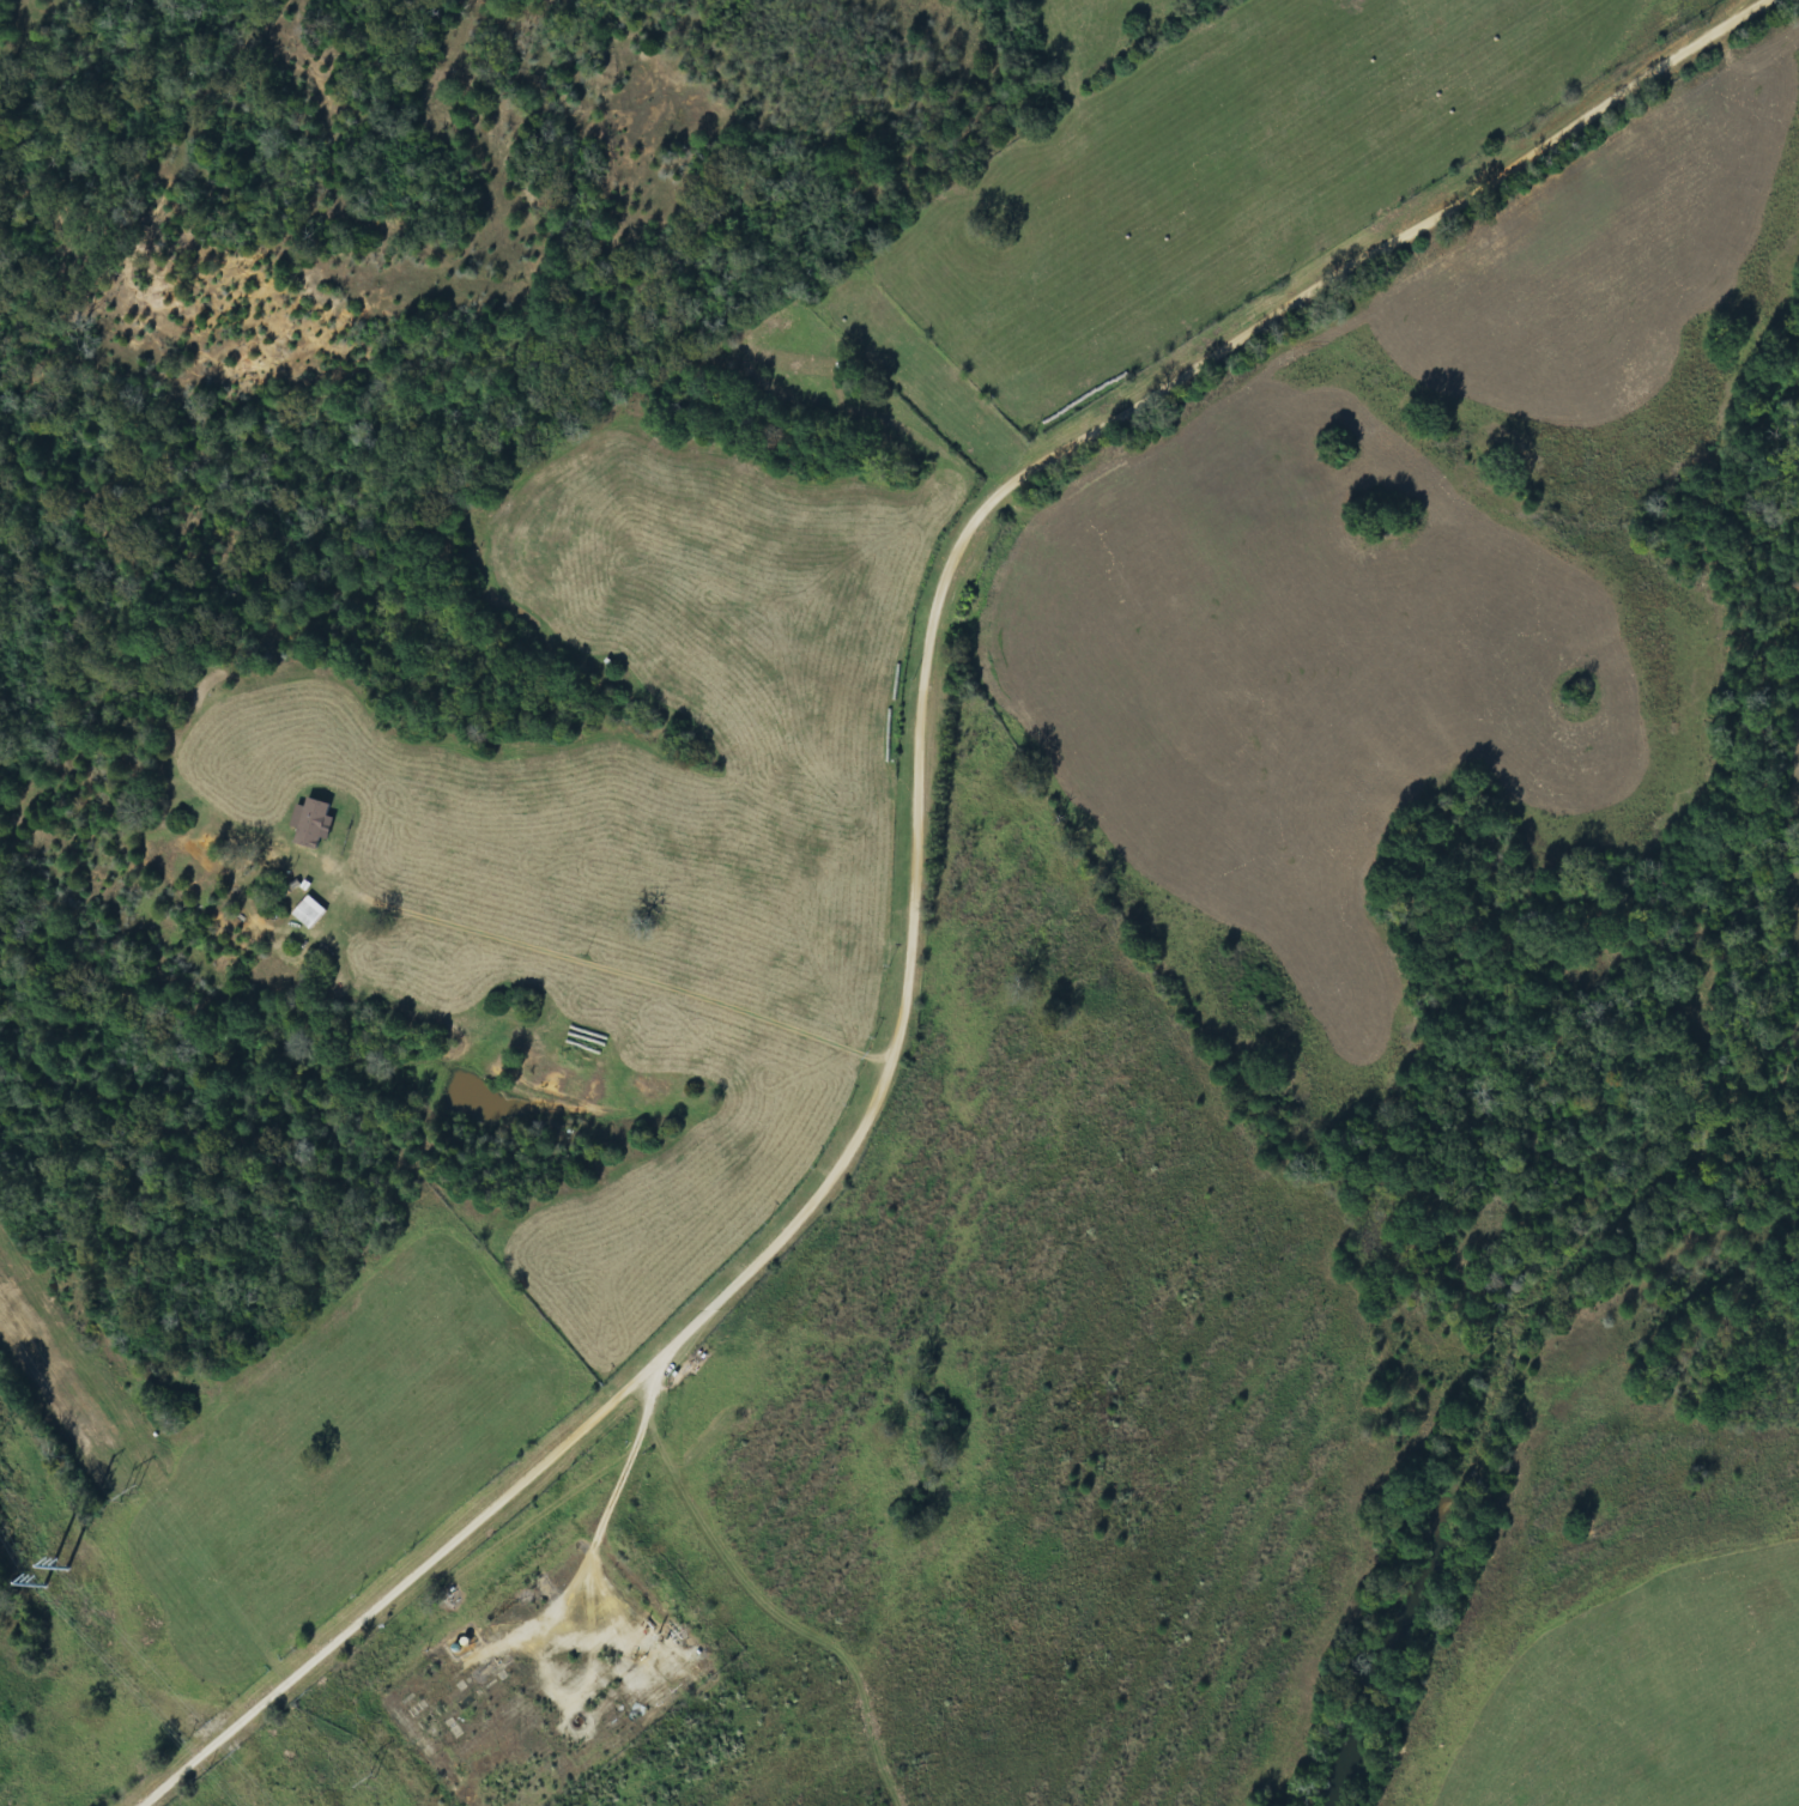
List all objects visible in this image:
building: (315, 825)
road: (929, 859)
building: (311, 914)
power tower: (128, 1495)
power tower: (38, 1588)
road: (56, 1698)
power tower: (367, 1776)

